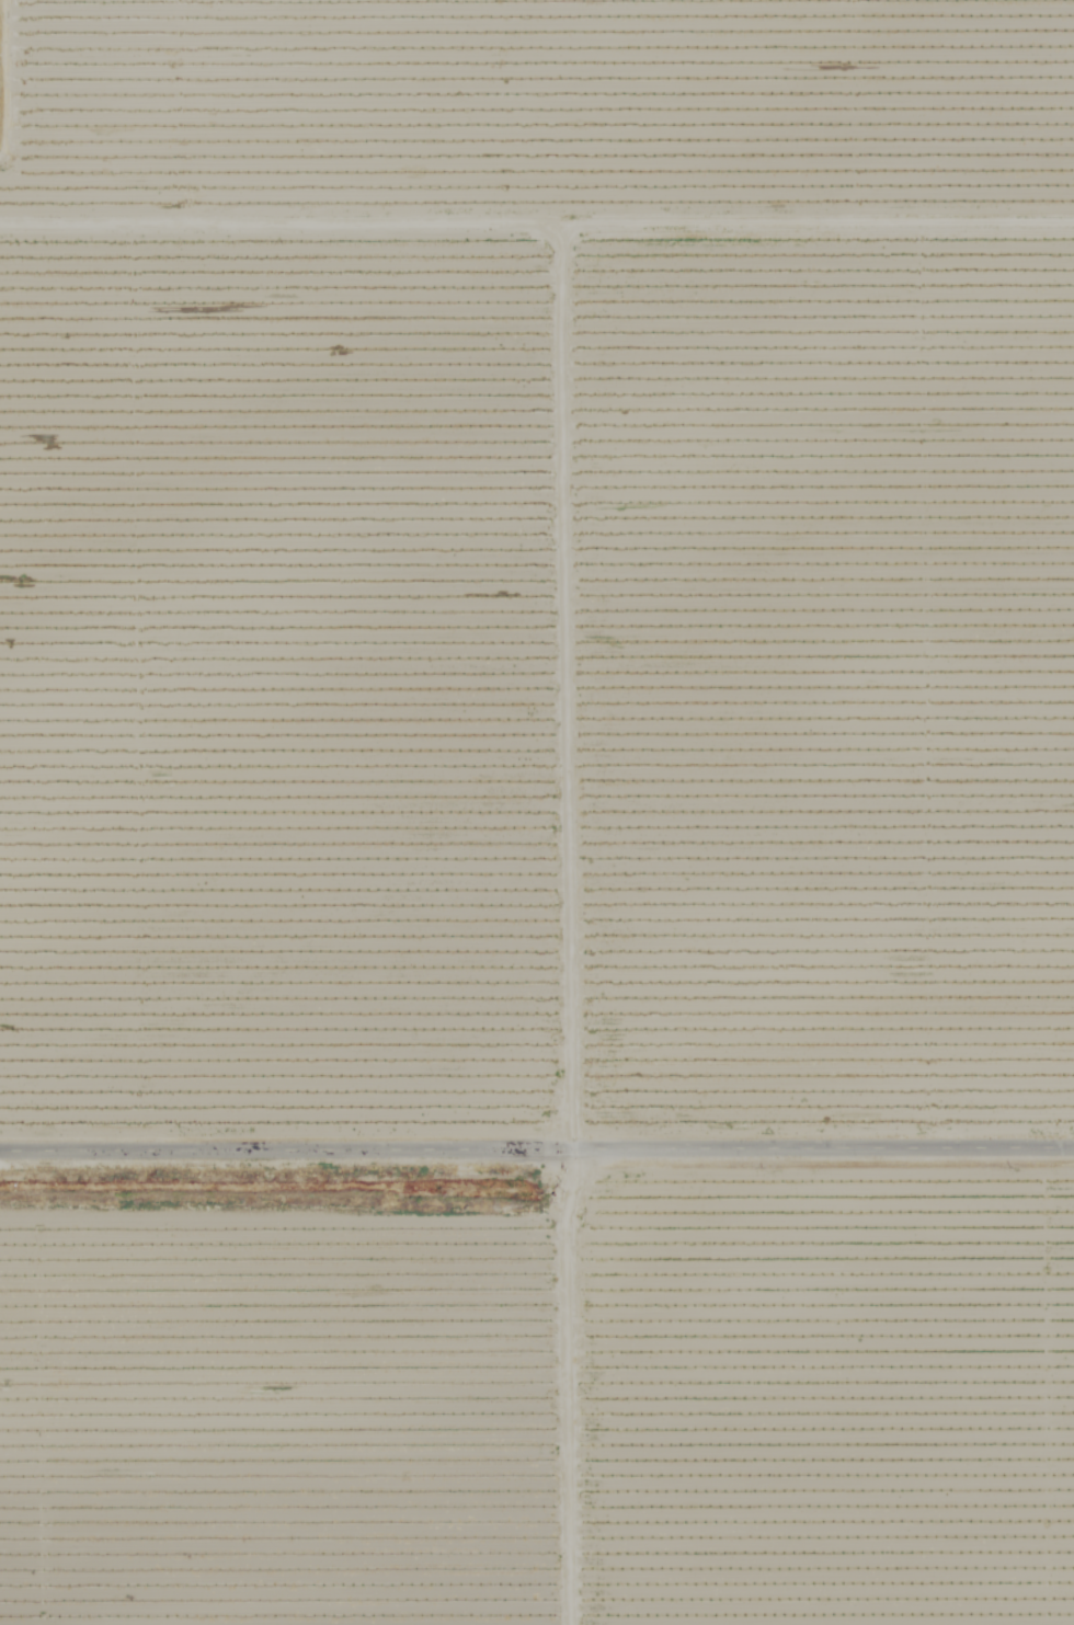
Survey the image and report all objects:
road: (560, 435)
road: (536, 1153)

